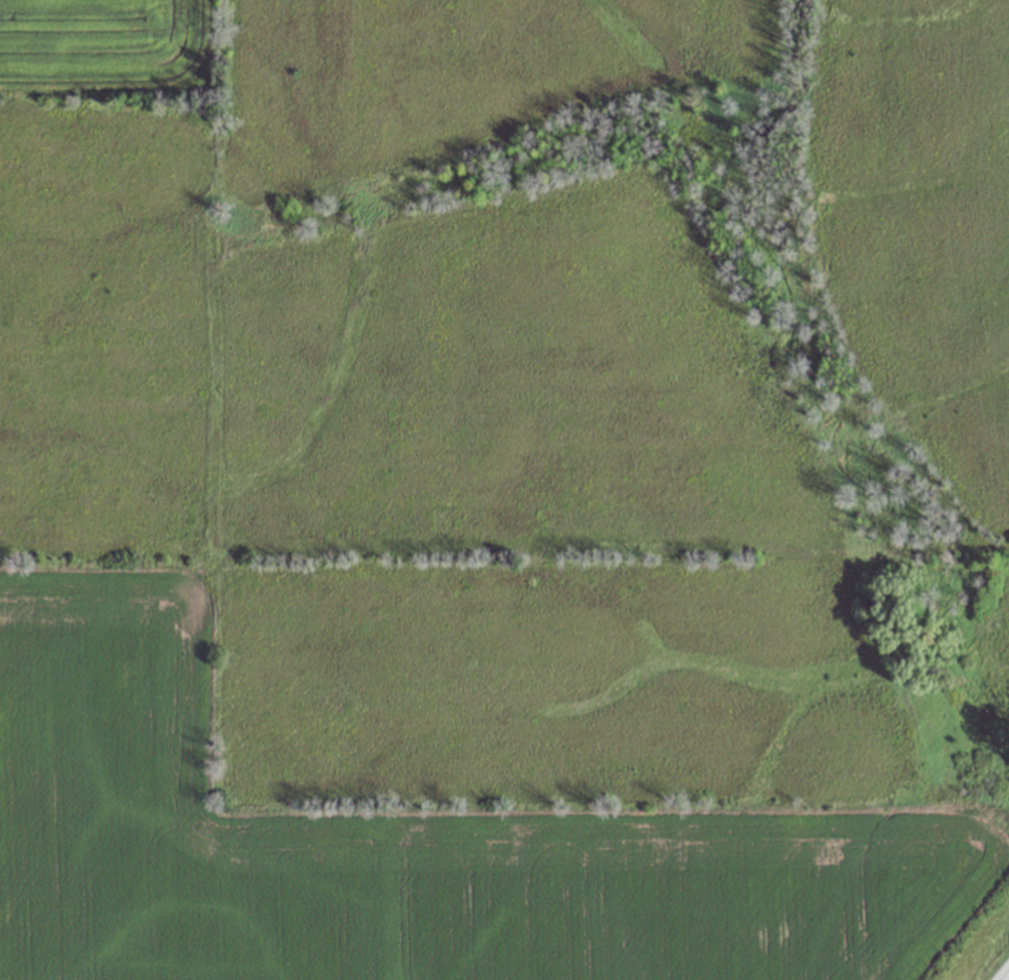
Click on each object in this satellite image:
crop: (502, 487)
road: (999, 969)

